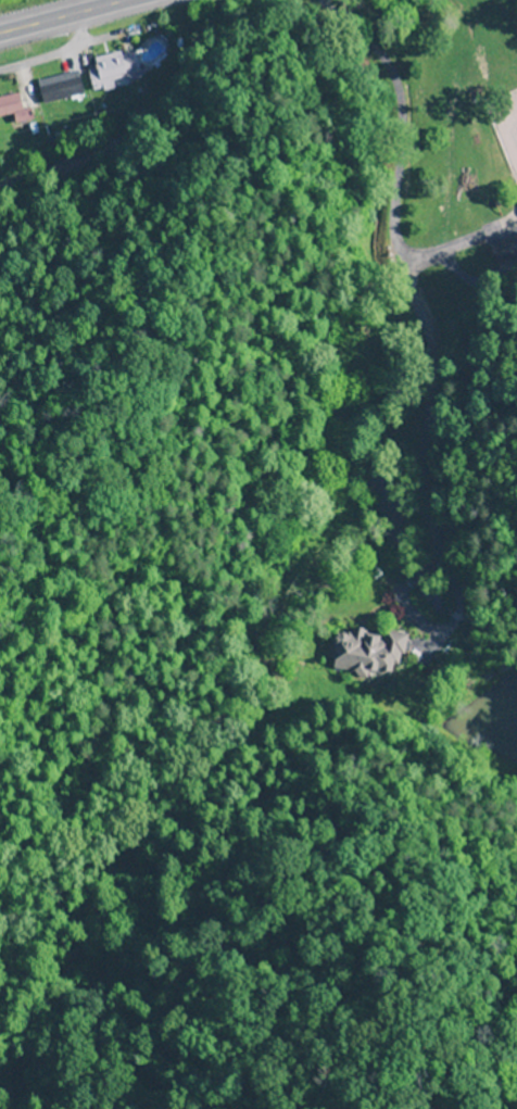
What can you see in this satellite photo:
road: (65, 16)
road: (55, 54)
building: (112, 71)
building: (60, 89)
building: (10, 105)
building: (504, 249)
building: (369, 652)

